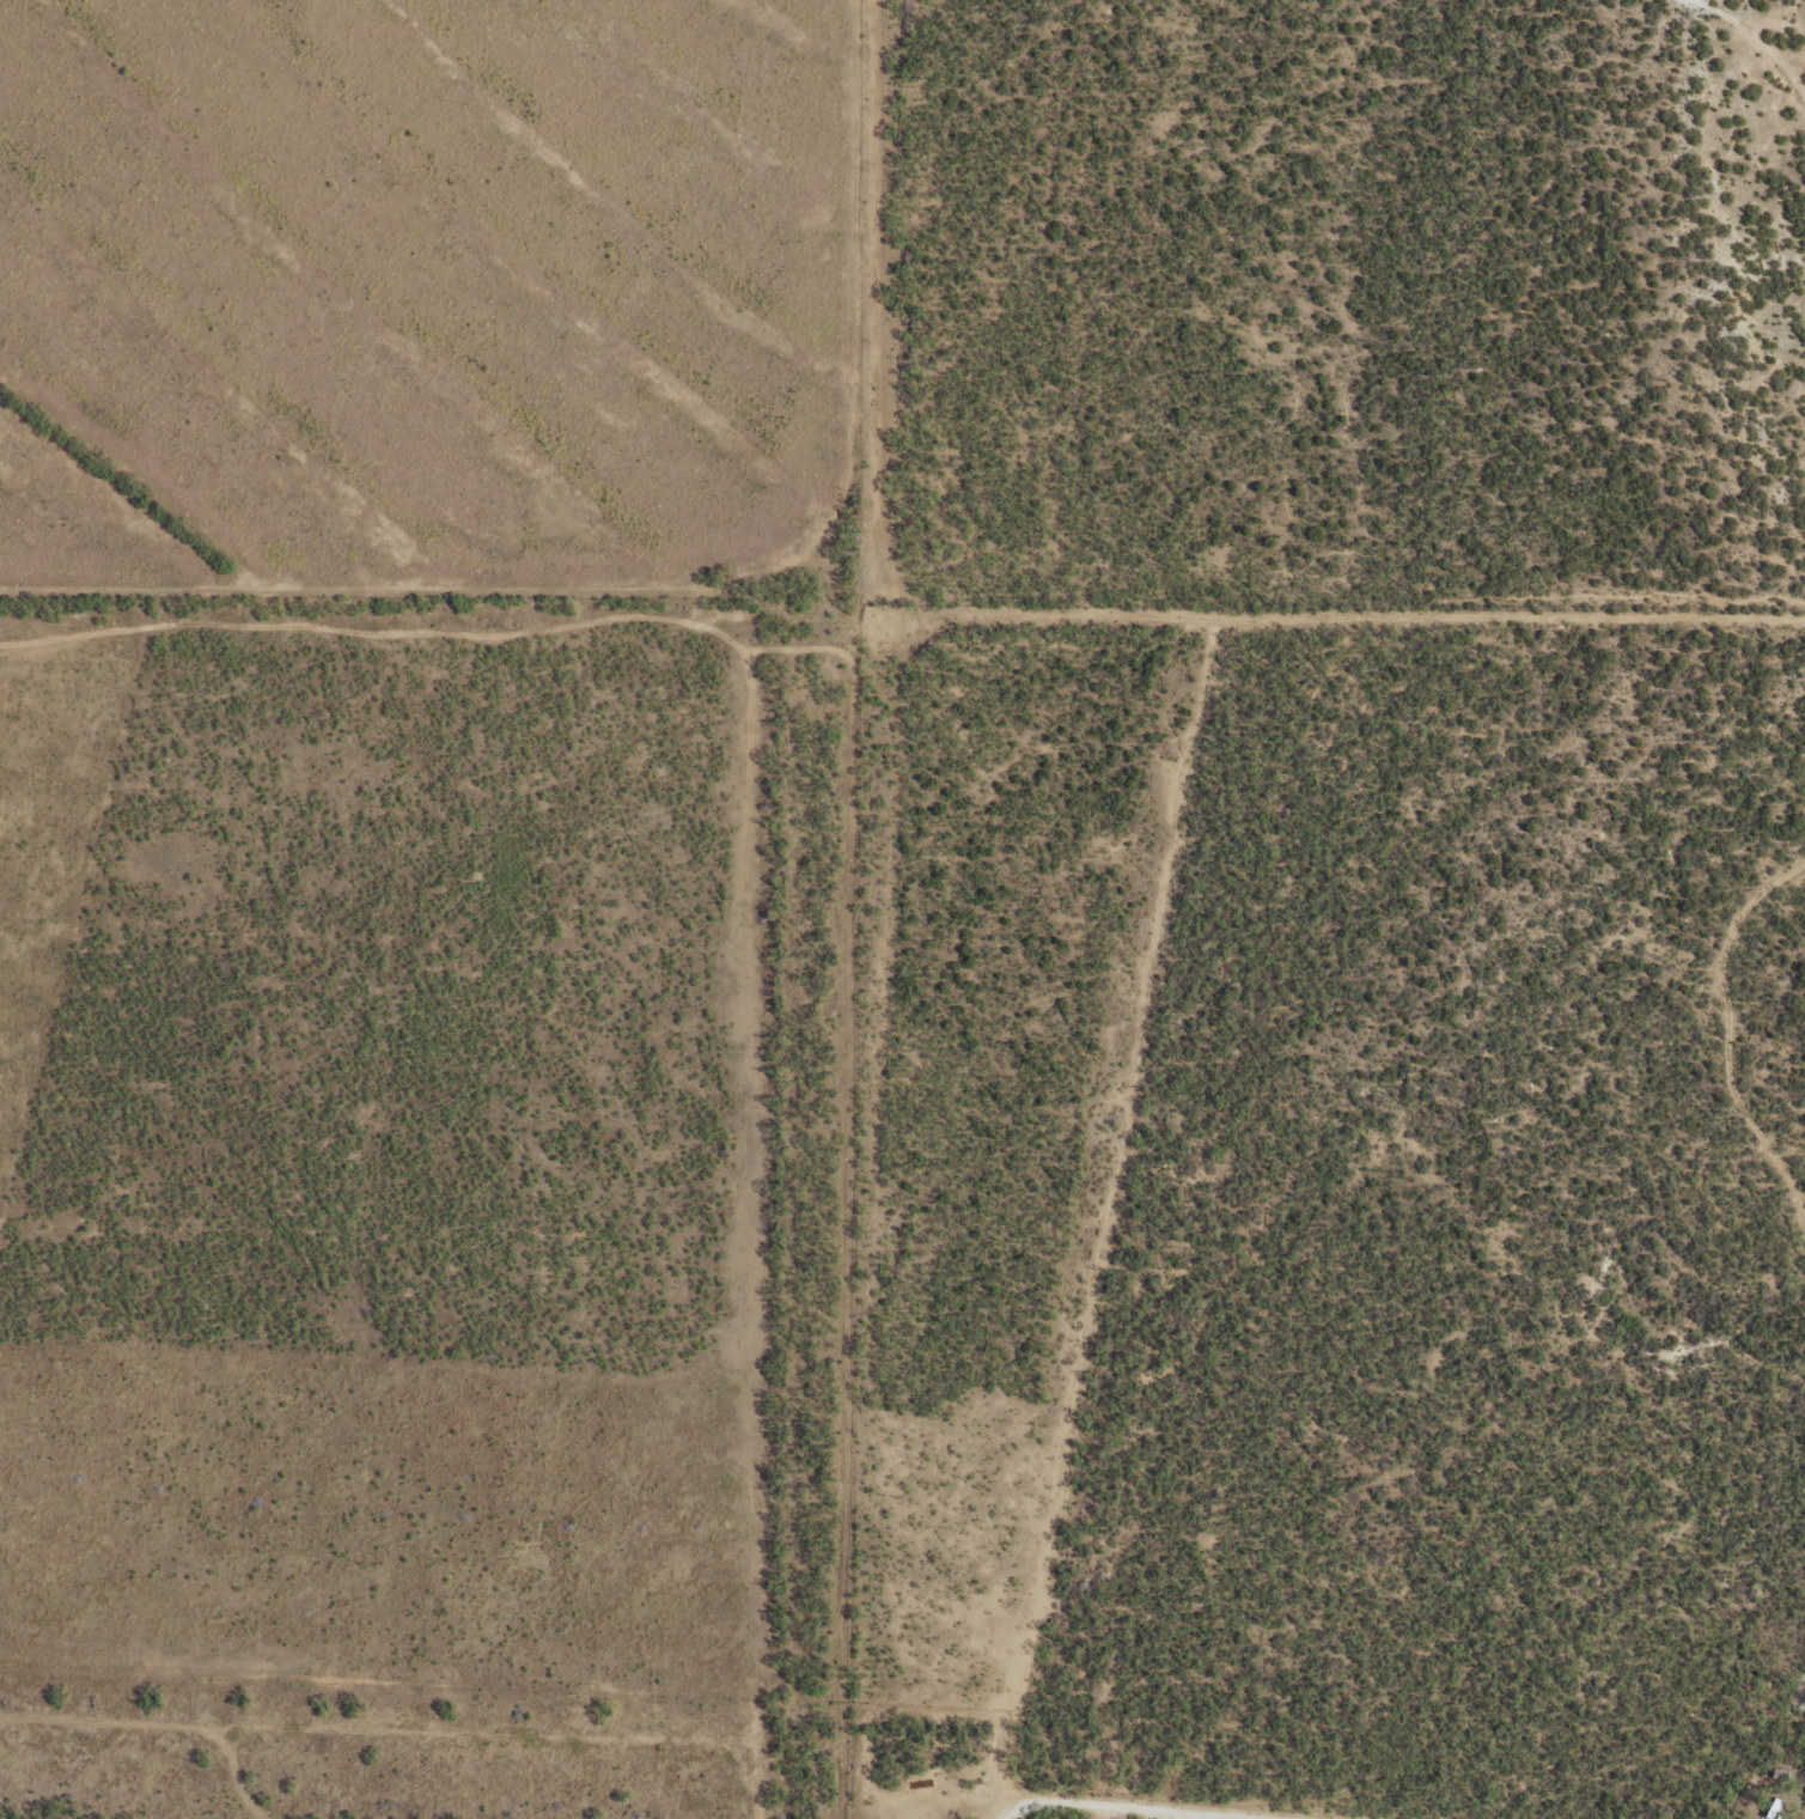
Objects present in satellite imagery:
road: (213, 101)
road: (1709, 323)
road: (120, 327)
road: (1803, 450)
road: (1587, 1174)

